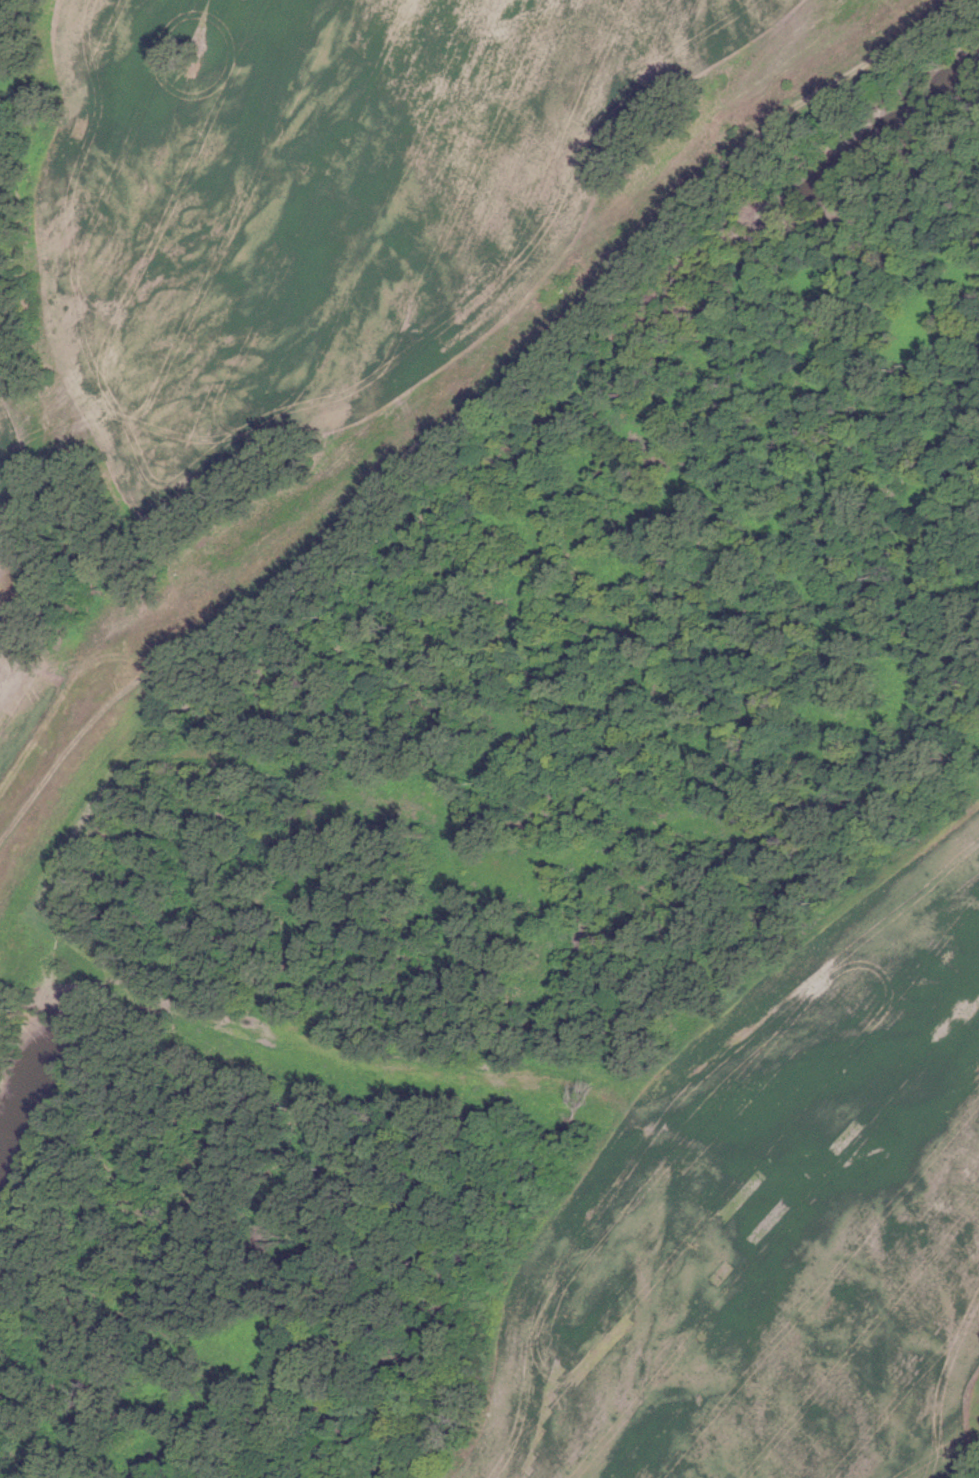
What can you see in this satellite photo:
crop: (355, 191)
road: (563, 336)
crop: (2, 482)
crop: (18, 677)
road: (72, 750)
road: (202, 1011)
crop: (774, 1236)

